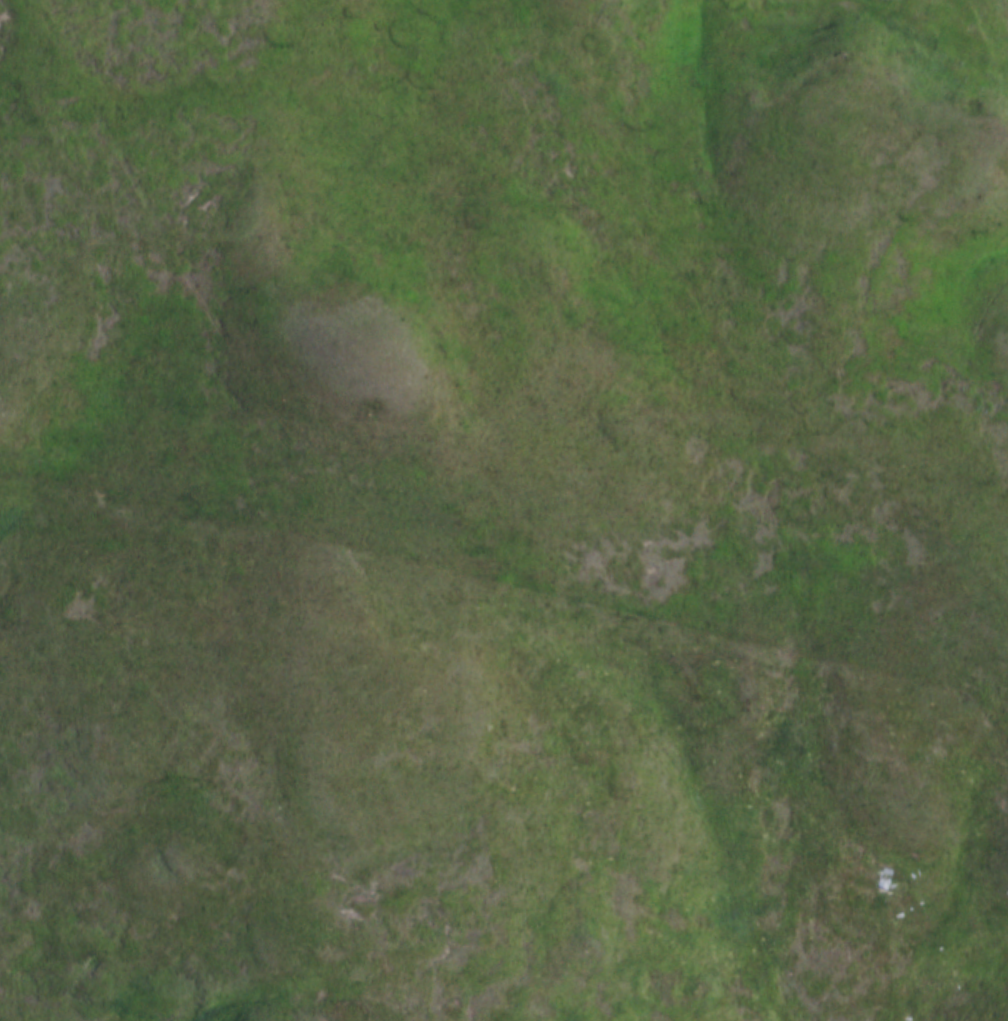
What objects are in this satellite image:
building: (894, 878)

